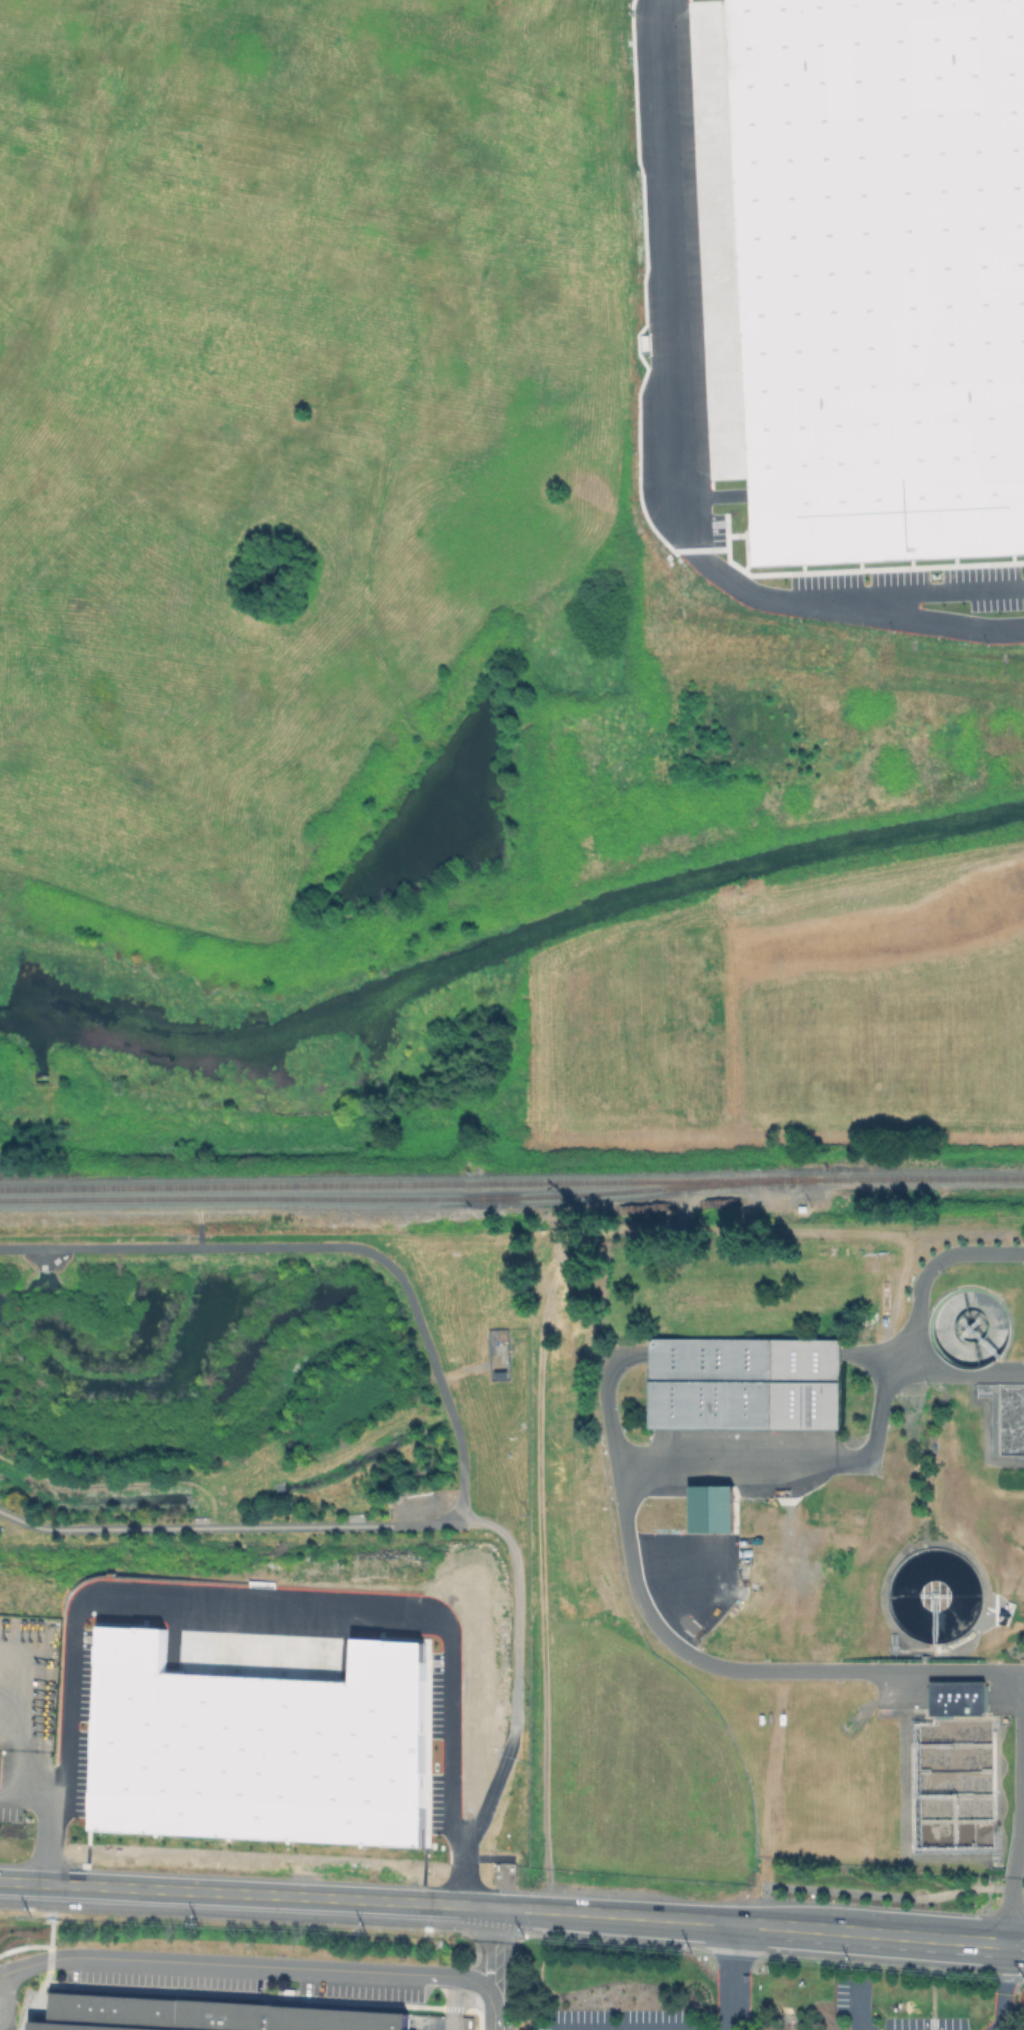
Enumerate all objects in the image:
building: (883, 278)
road: (673, 452)
road: (938, 592)
railway: (511, 1181)
railway: (495, 1196)
railway: (394, 1198)
road: (198, 1234)
road: (962, 1375)
building: (746, 1384)
road: (454, 1421)
road: (642, 1475)
road: (121, 1483)
building: (710, 1508)
wastewater plant: (835, 1521)
road: (272, 1605)
road: (514, 1700)
building: (961, 1700)
road: (11, 1719)
road: (29, 1773)
road: (19, 1797)
road: (44, 1808)
road: (48, 1851)
road: (896, 1895)
road: (366, 1900)
road: (766, 1904)
road: (878, 1932)
road: (1008, 1937)
road: (497, 1943)
road: (242, 1967)
road: (733, 1975)
road: (495, 2005)
road: (853, 2006)
road: (2, 2008)
building: (210, 2016)
road: (618, 2027)
road: (992, 2029)

